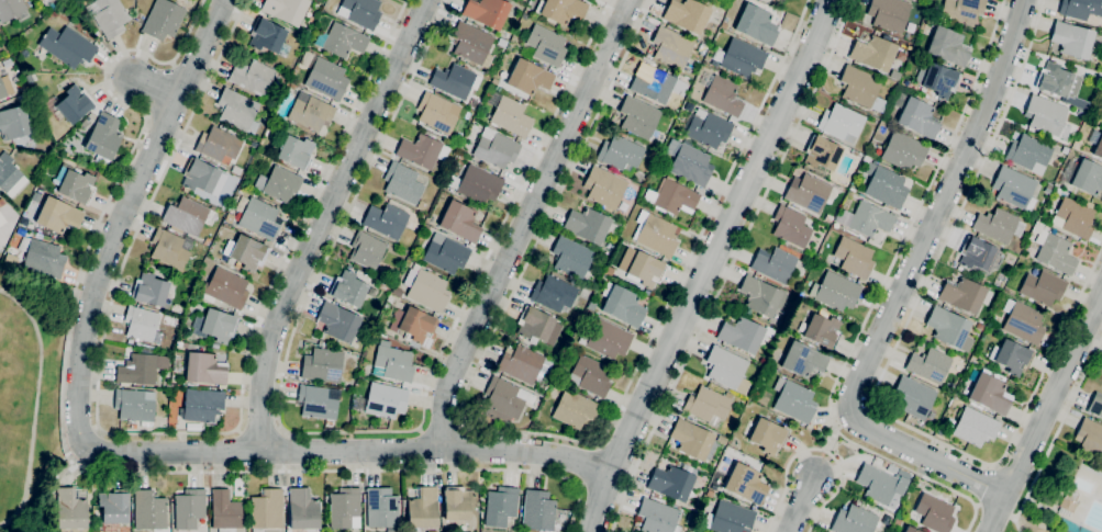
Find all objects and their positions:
building: (777, 1)
building: (45, 2)
building: (1080, 8)
building: (12, 10)
building: (286, 10)
building: (560, 10)
building: (961, 10)
building: (64, 11)
building: (487, 11)
building: (359, 12)
building: (55, 13)
building: (889, 14)
building: (108, 15)
building: (687, 15)
building: (163, 19)
building: (723, 24)
building: (756, 24)
building: (267, 36)
building: (1072, 38)
building: (342, 41)
building: (471, 44)
building: (546, 45)
building: (946, 45)
building: (67, 46)
building: (671, 47)
building: (873, 53)
building: (739, 57)
building: (1061, 61)
building: (1081, 63)
building: (252, 77)
building: (528, 77)
building: (326, 79)
building: (937, 79)
building: (455, 80)
building: (494, 81)
building: (1060, 84)
road: (155, 86)
building: (656, 86)
building: (5, 88)
building: (861, 88)
building: (19, 90)
building: (722, 95)
building: (20, 97)
building: (472, 102)
building: (71, 104)
building: (237, 111)
building: (311, 112)
building: (437, 113)
building: (1081, 113)
building: (509, 114)
building: (915, 115)
building: (1047, 116)
building: (638, 117)
building: (13, 123)
building: (841, 123)
building: (84, 124)
building: (709, 129)
building: (675, 131)
building: (625, 136)
building: (103, 137)
building: (218, 145)
building: (496, 148)
building: (1098, 148)
building: (902, 150)
building: (296, 151)
building: (422, 151)
building: (620, 152)
building: (822, 152)
building: (1028, 154)
building: (689, 162)
building: (199, 176)
building: (10, 177)
building: (1088, 178)
building: (236, 180)
building: (74, 183)
building: (279, 183)
building: (403, 183)
building: (477, 184)
building: (884, 184)
building: (604, 188)
building: (1014, 188)
building: (1047, 188)
building: (808, 193)
building: (670, 196)
building: (1, 202)
building: (422, 205)
road: (939, 207)
building: (55, 215)
building: (186, 215)
building: (1073, 216)
building: (1, 217)
building: (828, 218)
building: (258, 219)
building: (870, 219)
building: (387, 220)
building: (1, 222)
road: (324, 222)
building: (460, 222)
road: (526, 222)
building: (998, 225)
building: (590, 226)
building: (790, 226)
building: (655, 234)
building: (207, 241)
building: (170, 248)
building: (366, 250)
building: (1054, 250)
building: (244, 252)
building: (446, 253)
building: (977, 253)
building: (42, 257)
building: (570, 257)
building: (853, 258)
road: (706, 263)
building: (775, 264)
road: (731, 265)
building: (645, 269)
building: (969, 272)
building: (1042, 287)
building: (225, 288)
building: (348, 288)
building: (149, 290)
building: (428, 291)
building: (835, 291)
building: (554, 293)
building: (965, 295)
building: (760, 296)
road: (875, 299)
building: (592, 305)
building: (621, 305)
building: (823, 314)
building: (1023, 321)
building: (337, 322)
building: (142, 325)
building: (215, 325)
building: (414, 326)
building: (538, 326)
building: (980, 327)
building: (949, 328)
building: (822, 330)
building: (741, 335)
building: (606, 339)
building: (187, 346)
building: (1011, 356)
building: (803, 360)
building: (392, 362)
building: (524, 363)
building: (323, 364)
building: (930, 365)
building: (141, 369)
building: (204, 369)
building: (727, 369)
road: (881, 375)
building: (590, 376)
building: (999, 377)
building: (167, 383)
building: (988, 393)
road: (1054, 394)
building: (913, 397)
building: (385, 399)
building: (505, 399)
building: (793, 400)
building: (316, 403)
road: (34, 405)
building: (201, 405)
building: (708, 405)
building: (1095, 405)
building: (135, 406)
building: (482, 409)
building: (575, 409)
building: (975, 427)
road: (1058, 430)
road: (352, 431)
road: (169, 433)
road: (542, 435)
building: (768, 435)
building: (1090, 438)
building: (691, 439)
building: (721, 440)
road: (830, 441)
road: (816, 450)
road: (111, 453)
road: (67, 454)
road: (927, 456)
road: (587, 464)
building: (672, 482)
building: (746, 484)
building: (877, 484)
road: (983, 485)
building: (712, 486)
building: (709, 493)
building: (655, 495)
road: (801, 502)
building: (1068, 502)
building: (457, 503)
building: (113, 506)
building: (500, 507)
building: (189, 509)
building: (303, 509)
building: (345, 509)
building: (423, 509)
building: (70, 510)
building: (148, 510)
building: (267, 510)
building: (381, 510)
building: (537, 510)
building: (225, 511)
road: (998, 512)
building: (934, 513)
road: (1012, 513)
building: (561, 517)
building: (658, 517)
building: (728, 518)
building: (854, 520)
building: (897, 521)
park: (1026, 524)
building: (1069, 527)
building: (910, 530)

